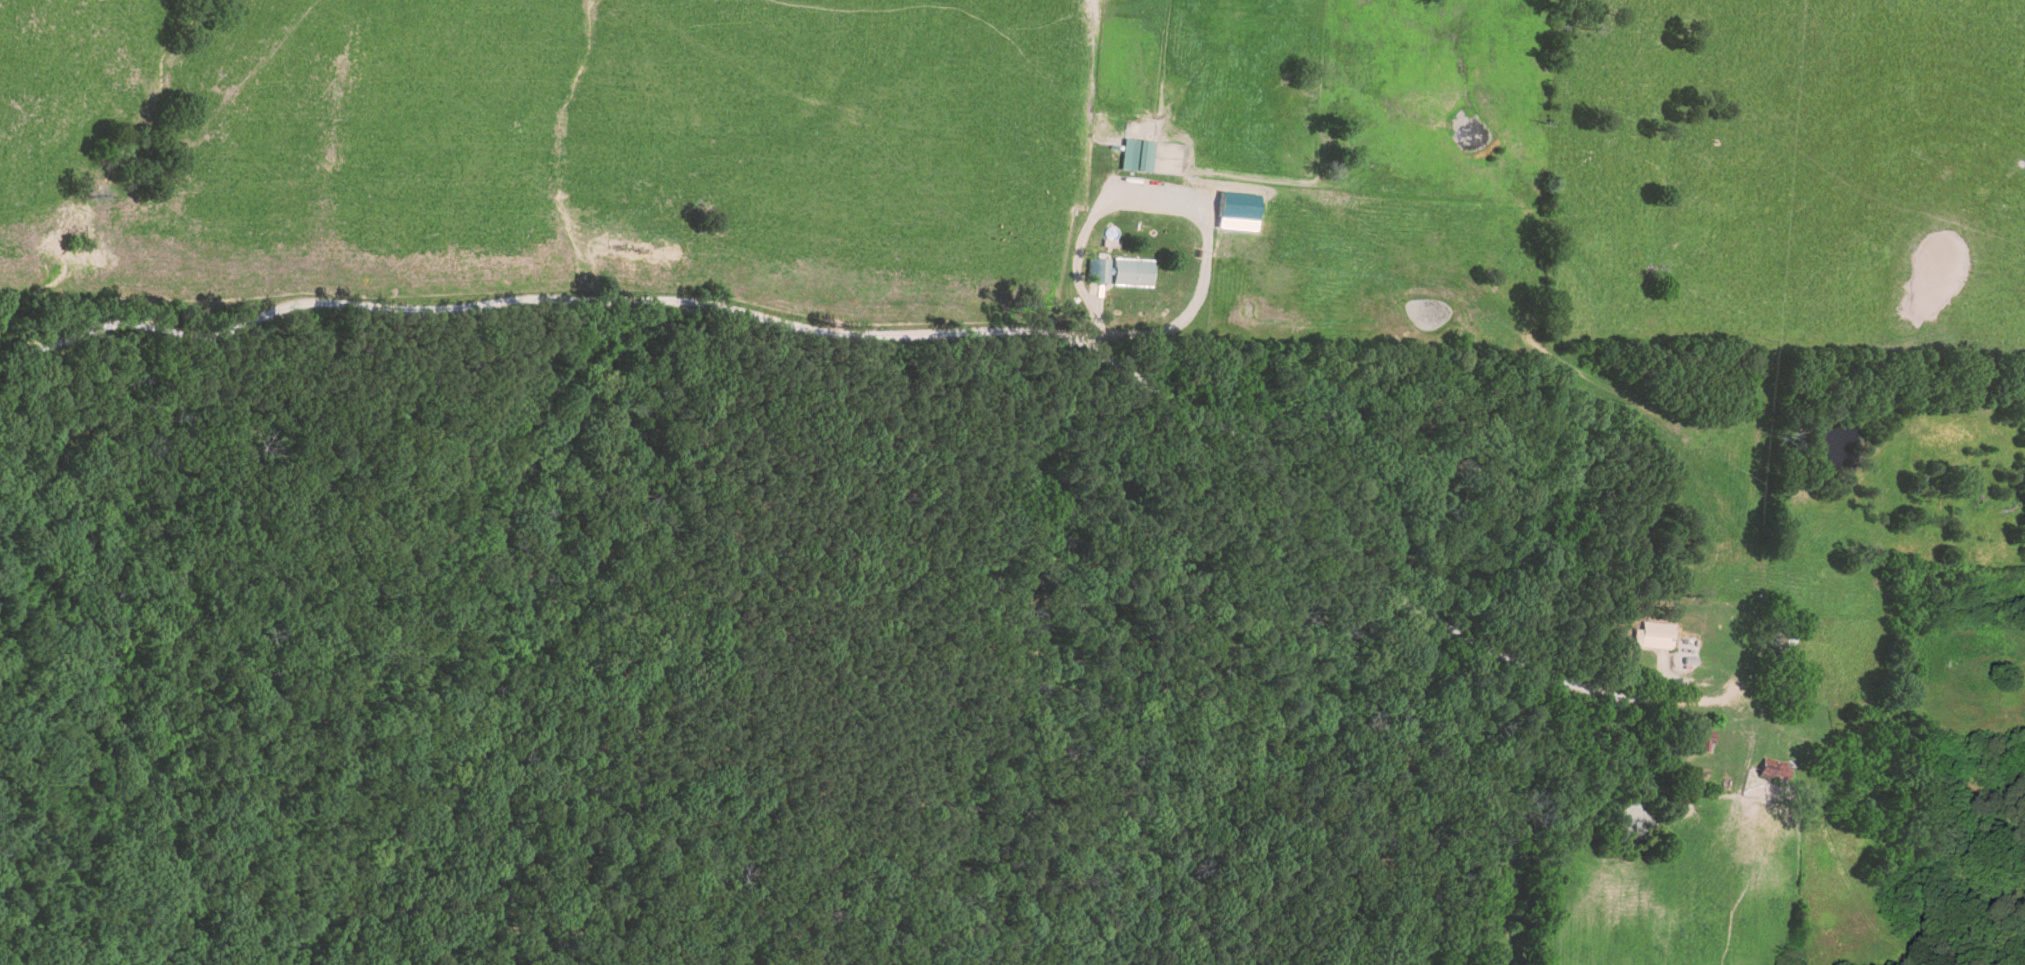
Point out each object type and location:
building: (1135, 154)
building: (1236, 212)
building: (1131, 272)
road: (1181, 369)
building: (1653, 634)
building: (1775, 771)

